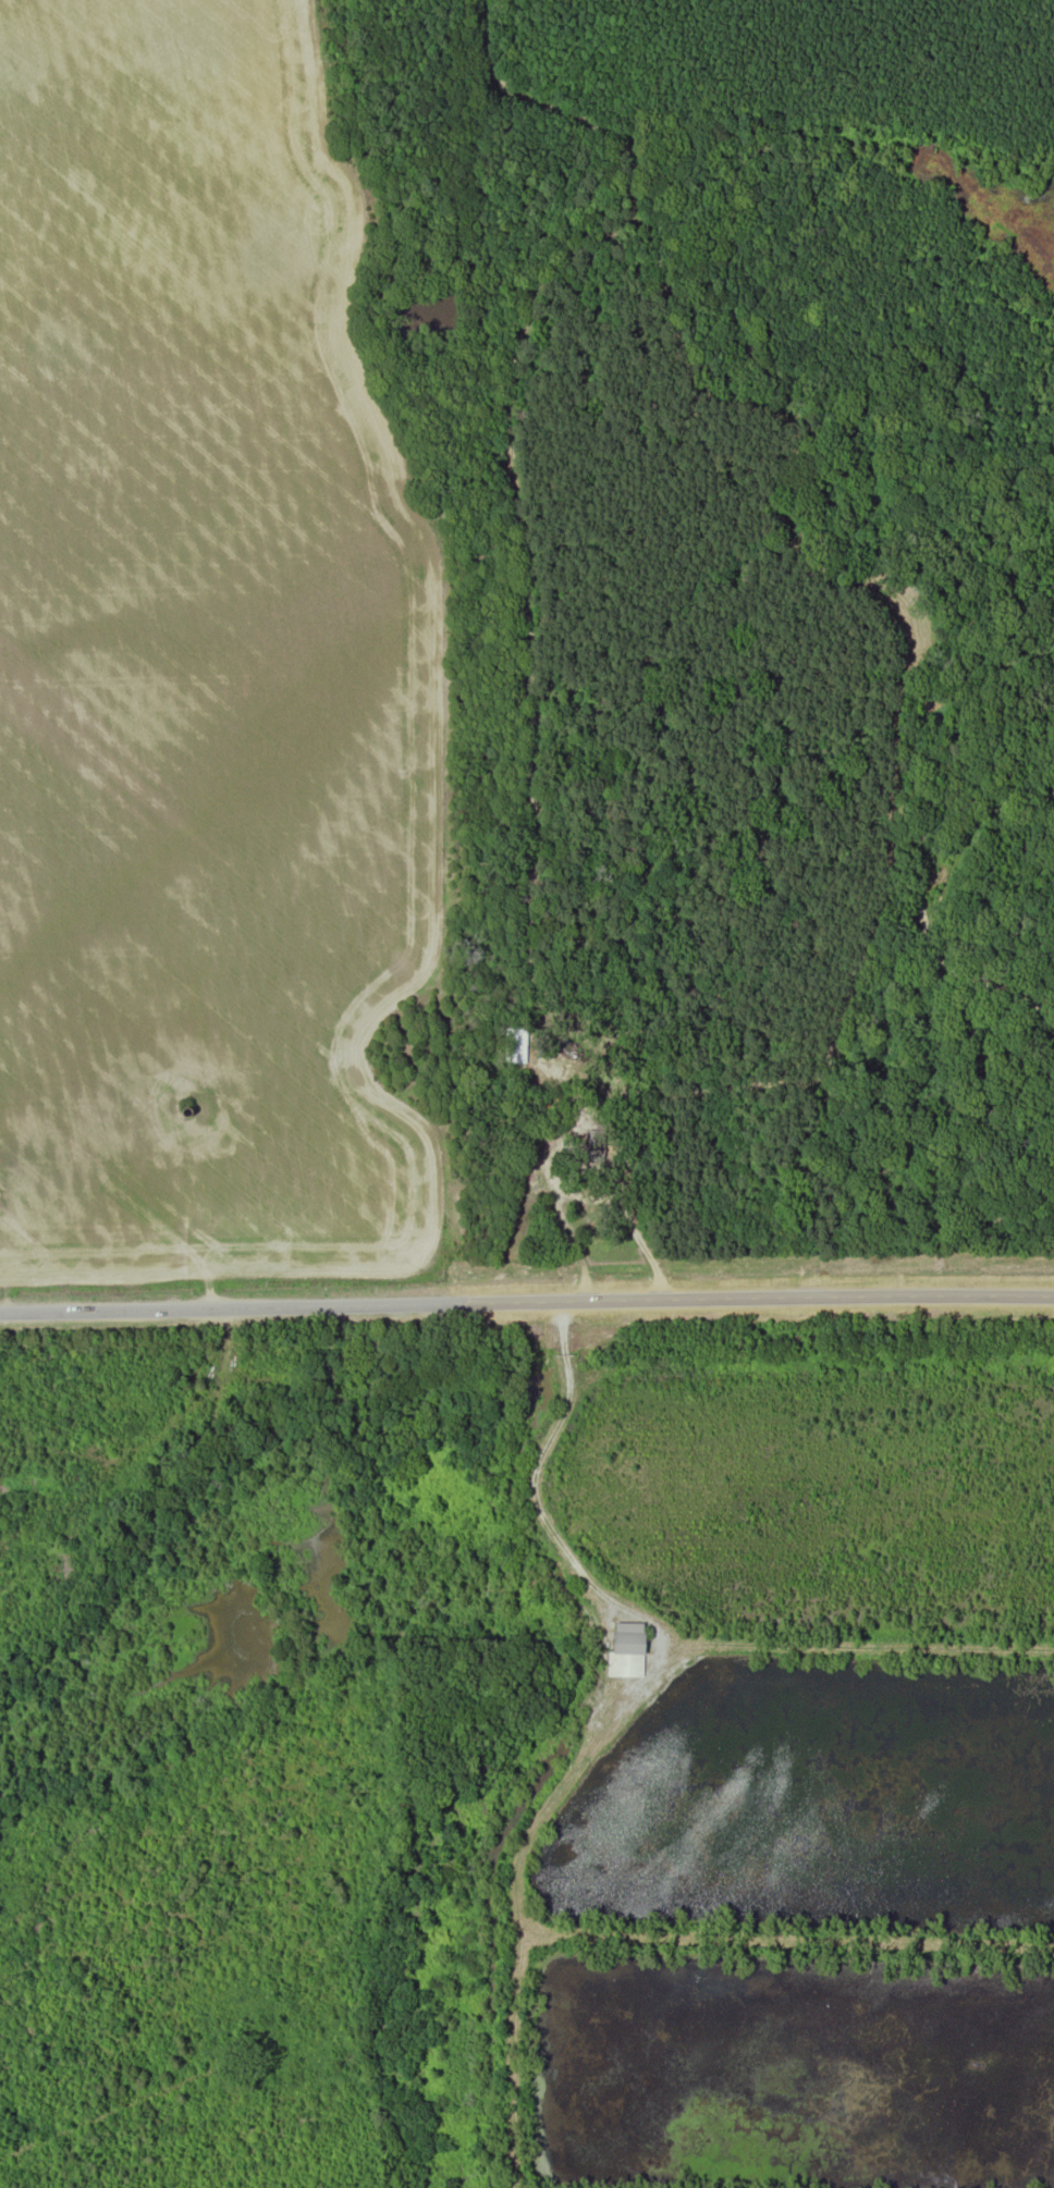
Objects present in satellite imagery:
road: (811, 1296)
road: (285, 1304)
building: (623, 1647)

